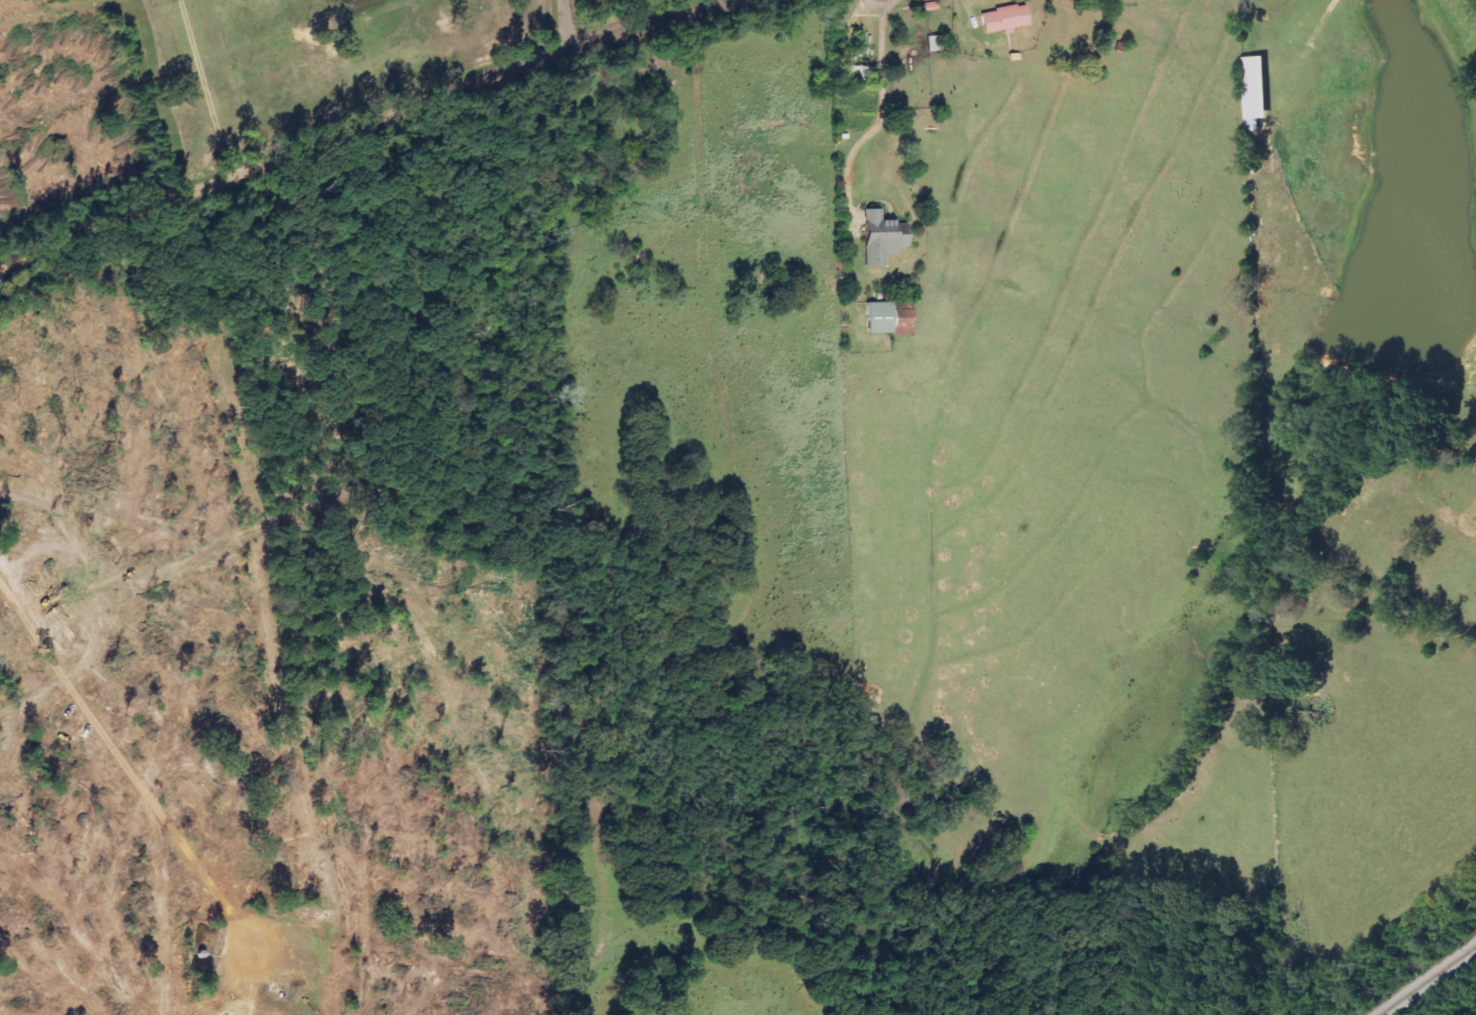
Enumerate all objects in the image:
building: (1002, 19)
road: (564, 25)
building: (853, 73)
building: (1257, 88)
road: (426, 99)
building: (879, 238)
building: (886, 319)
railway: (1426, 979)

